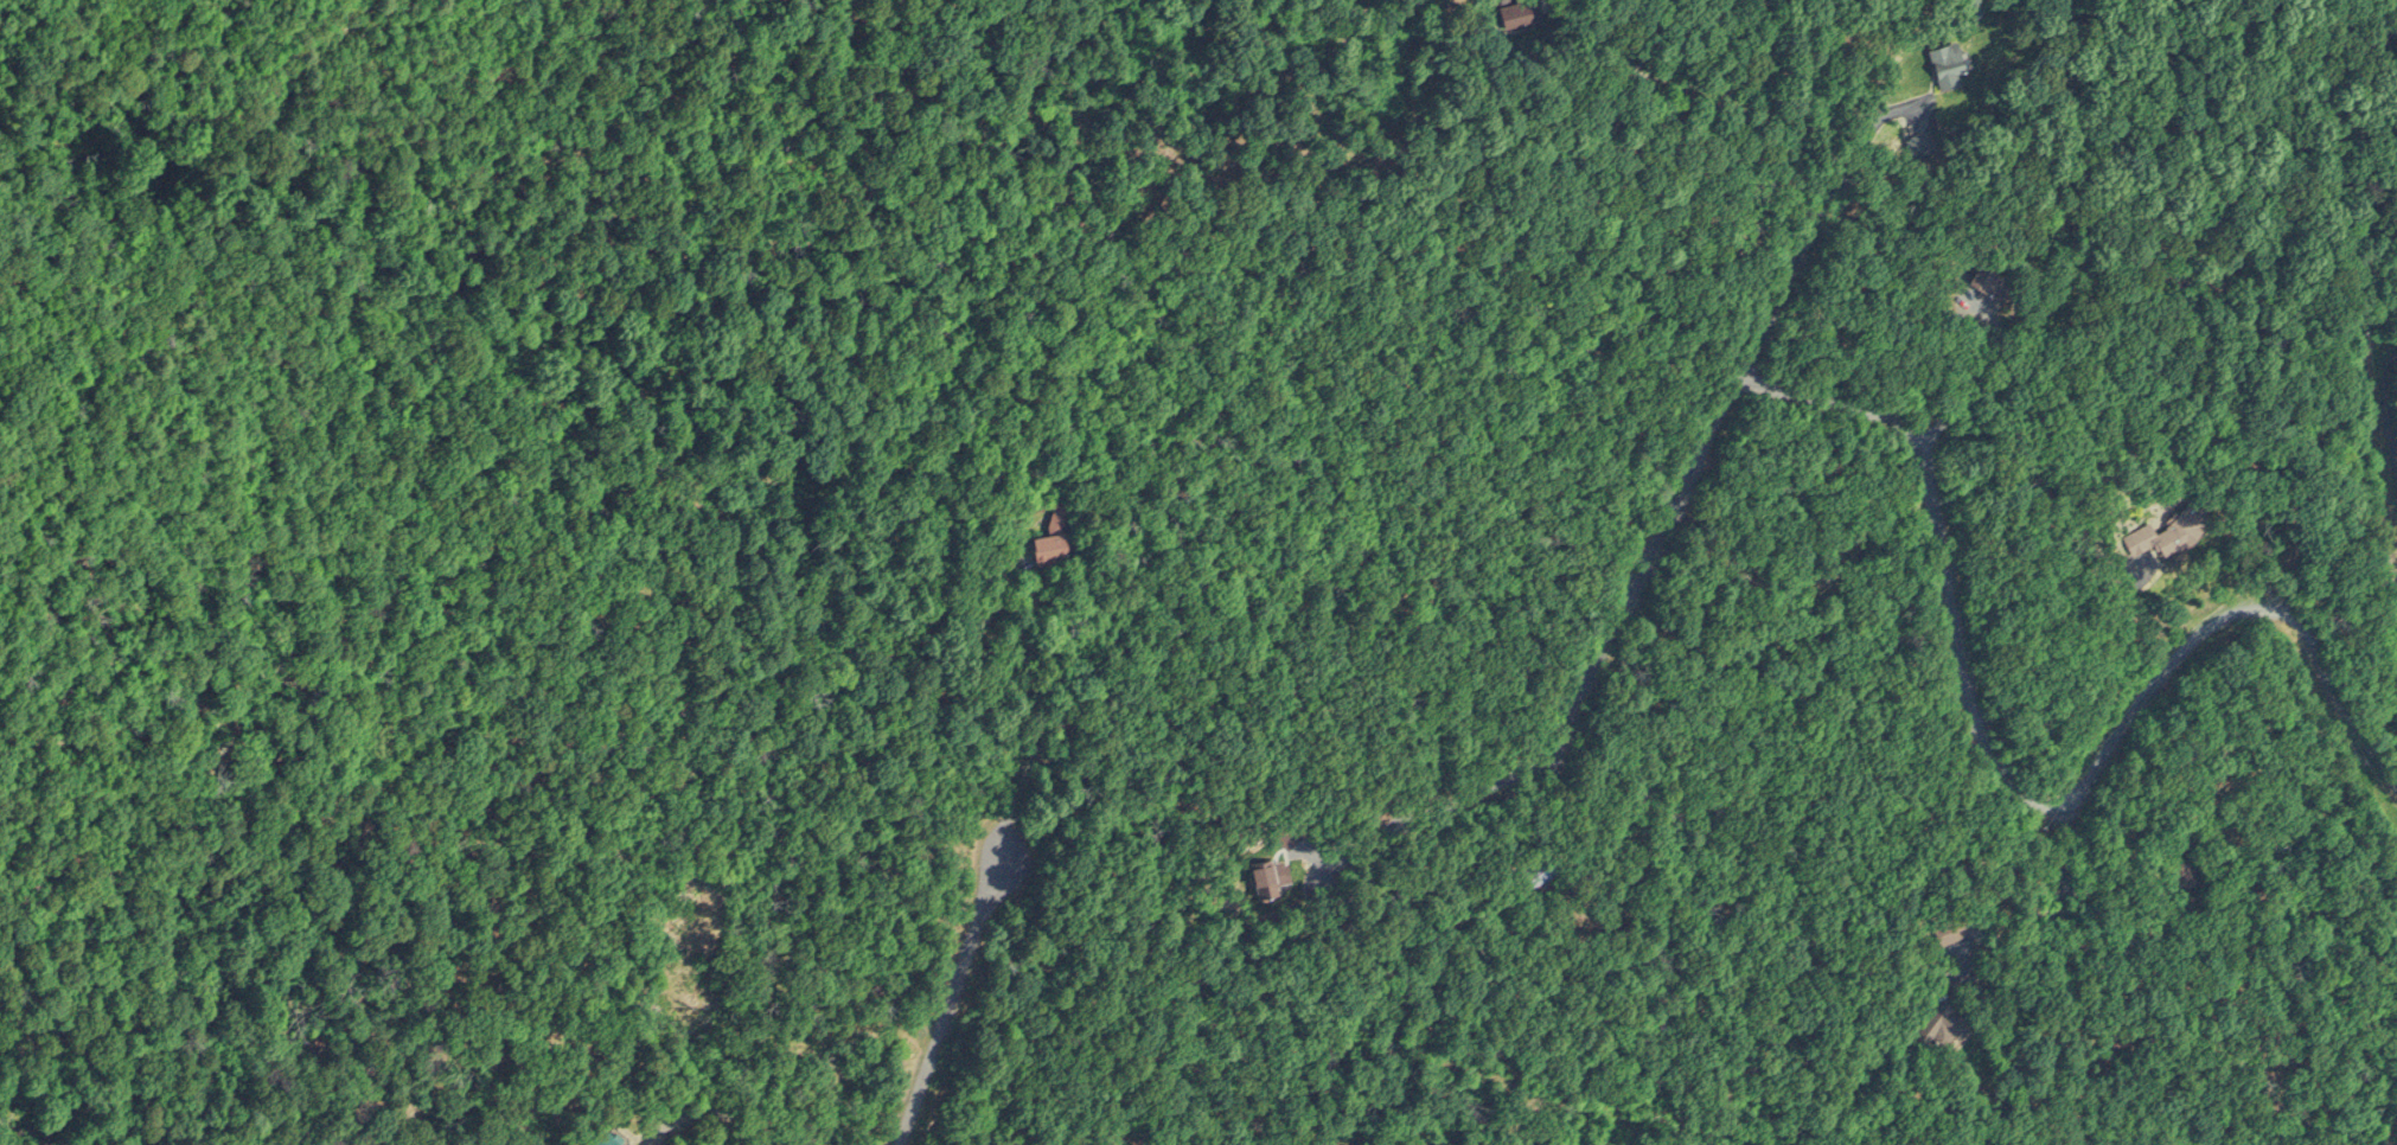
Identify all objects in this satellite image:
building: (1949, 53)
road: (1687, 84)
road: (1874, 122)
building: (1986, 274)
road: (1776, 286)
road: (1987, 383)
road: (2392, 436)
building: (2186, 514)
building: (2140, 535)
building: (1049, 542)
road: (1650, 543)
road: (2115, 632)
road: (1035, 693)
road: (2011, 780)
road: (1455, 804)
building: (2187, 866)
road: (2050, 910)
building: (1950, 923)
road: (950, 999)
building: (1950, 1017)
building: (603, 1136)

